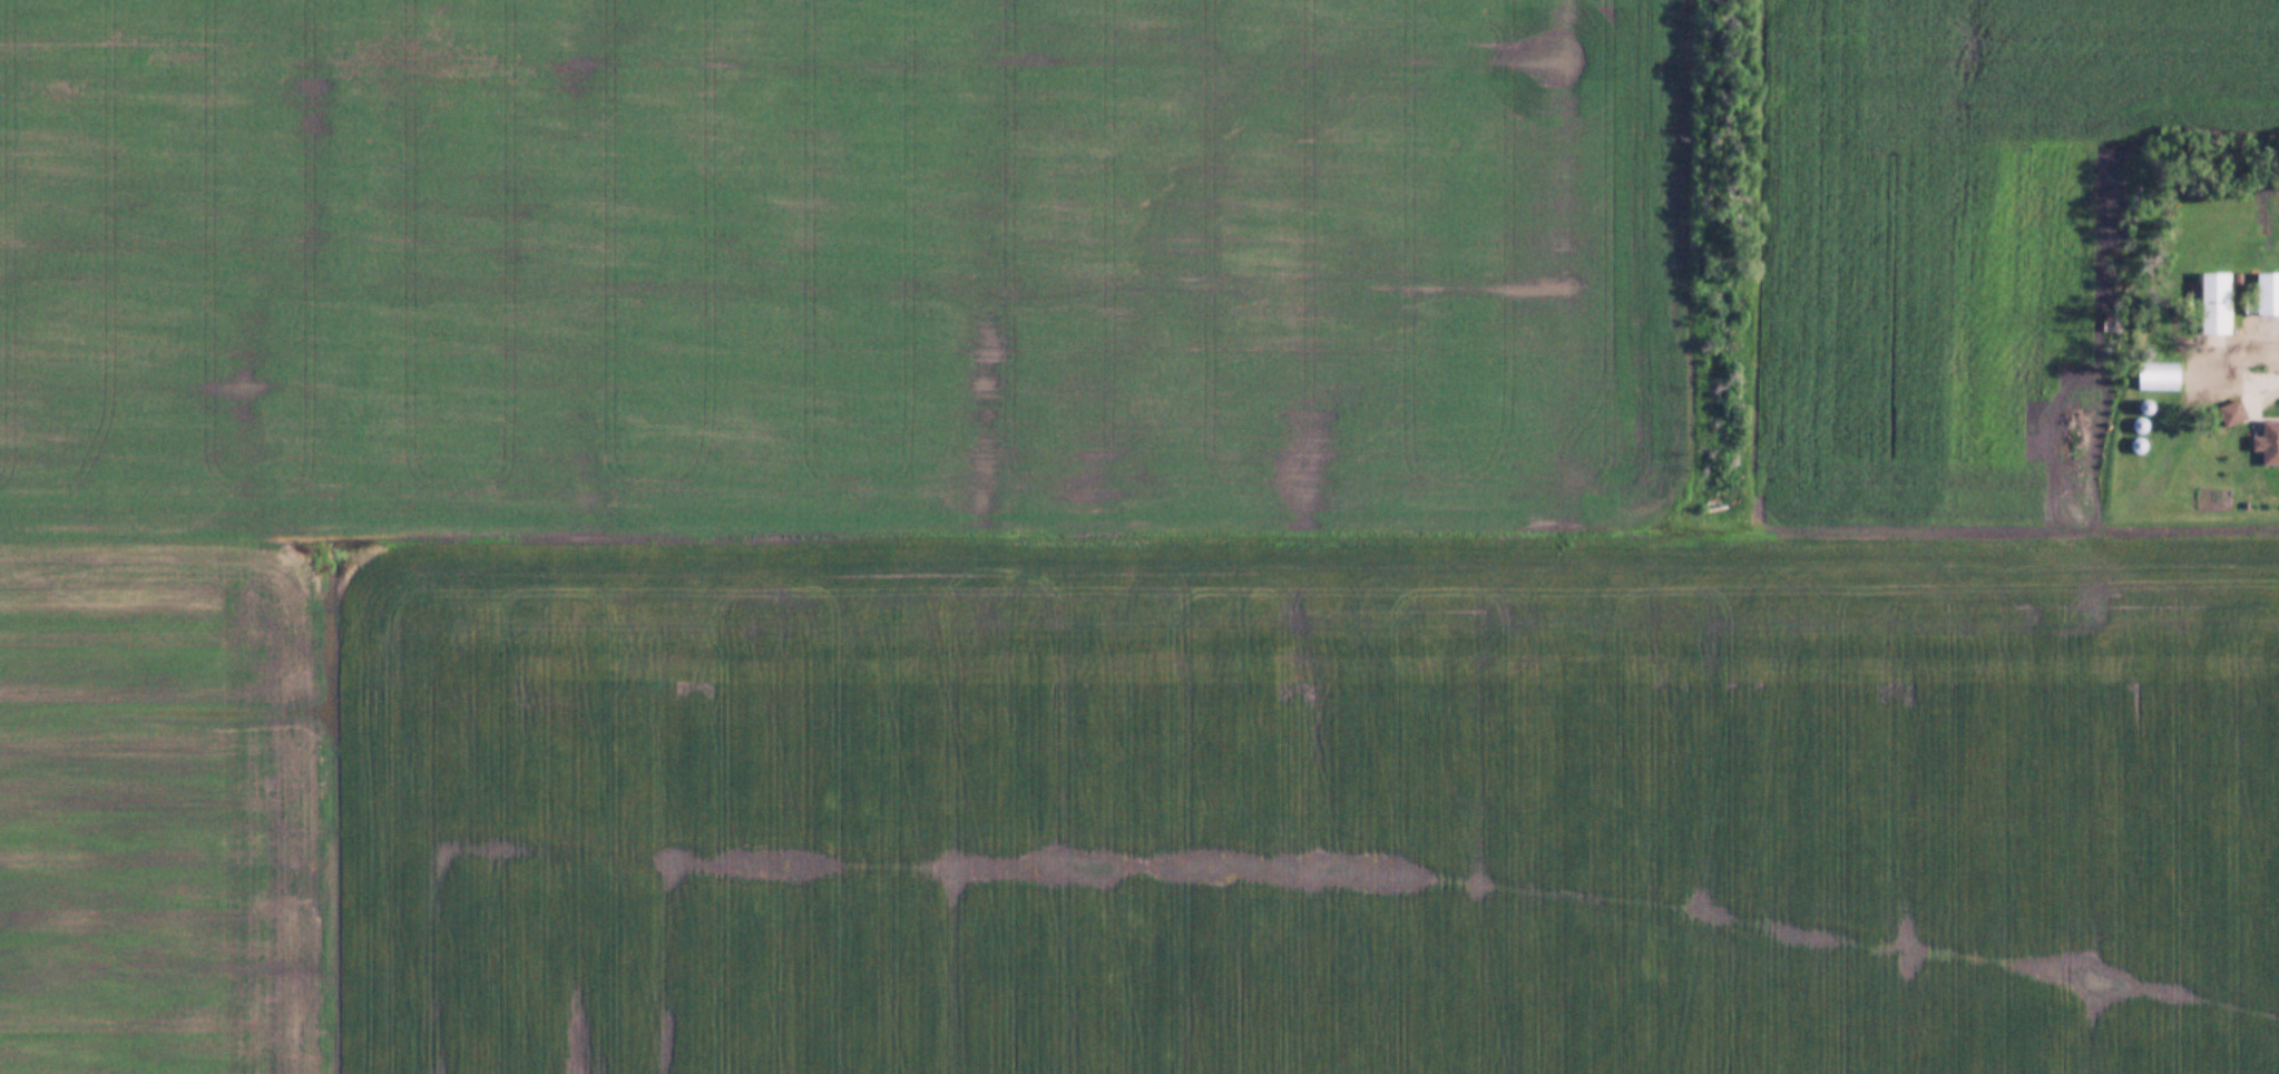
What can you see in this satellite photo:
building: (2263, 291)
building: (2210, 301)
road: (2222, 368)
building: (2162, 373)

